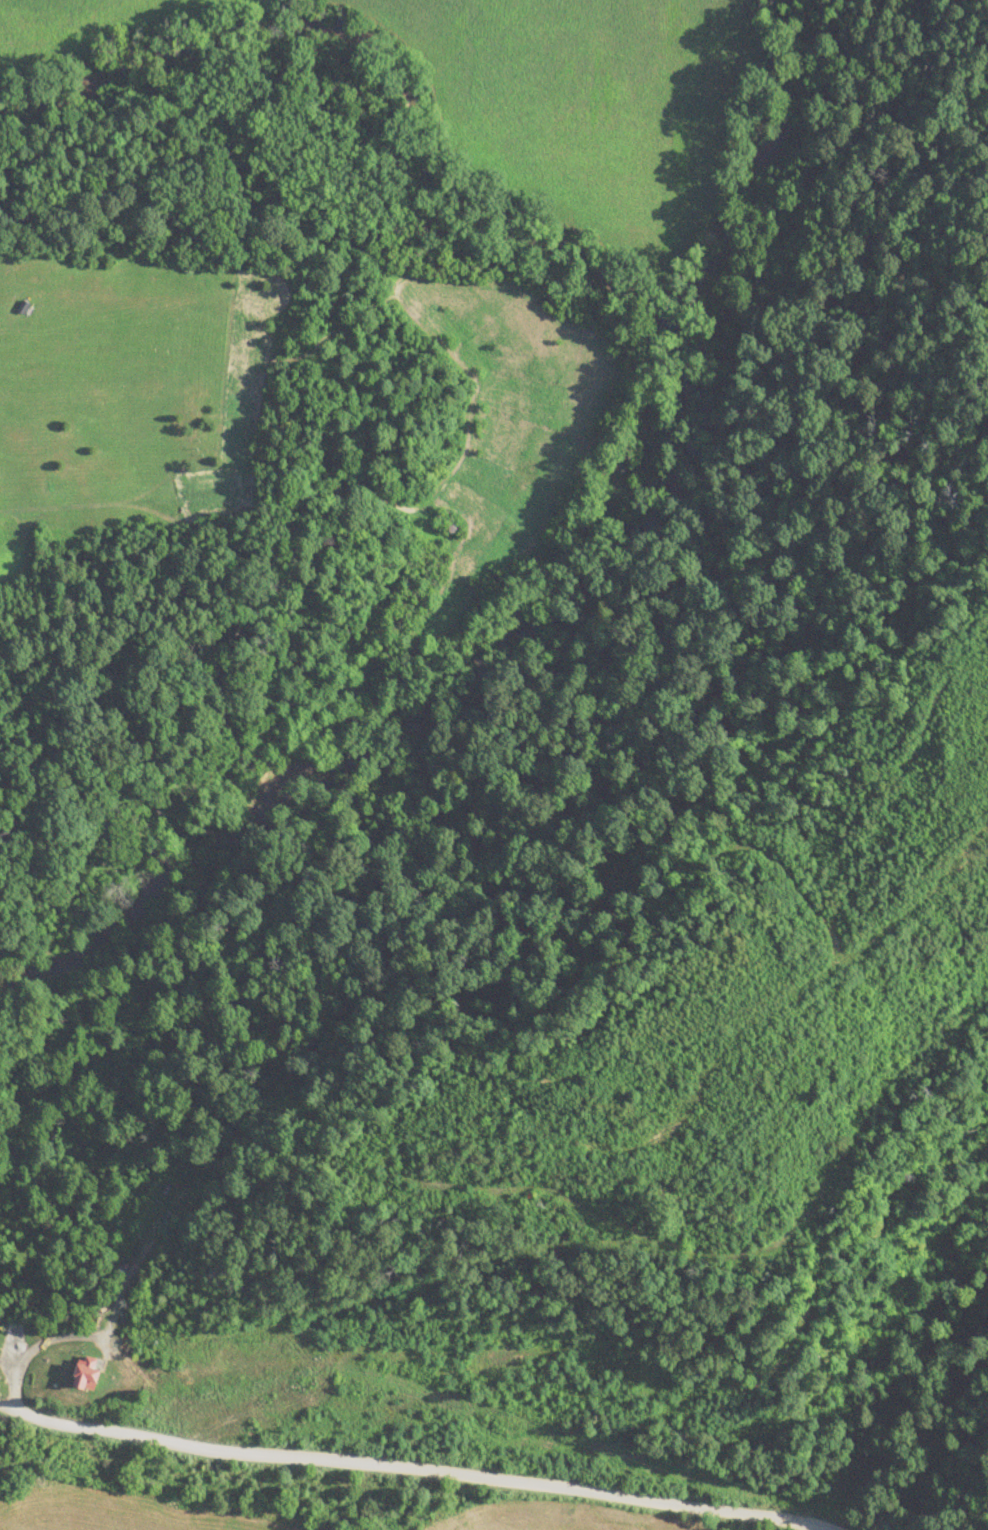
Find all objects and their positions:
river: (761, 172)
river: (702, 424)
building: (86, 1374)
building: (1, 1431)
road: (411, 1471)

